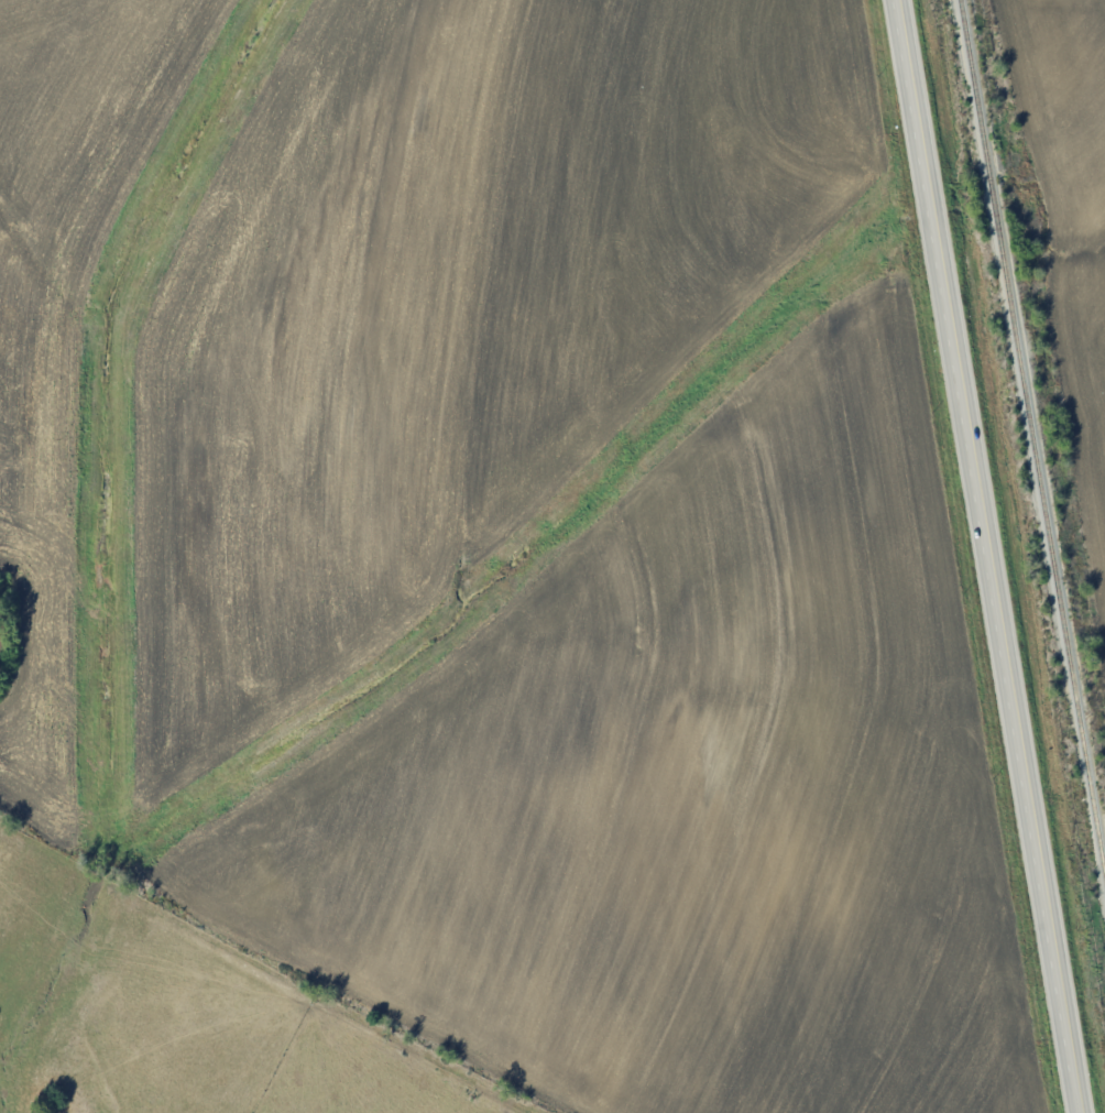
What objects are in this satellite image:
railway: (1035, 428)
road: (992, 556)

